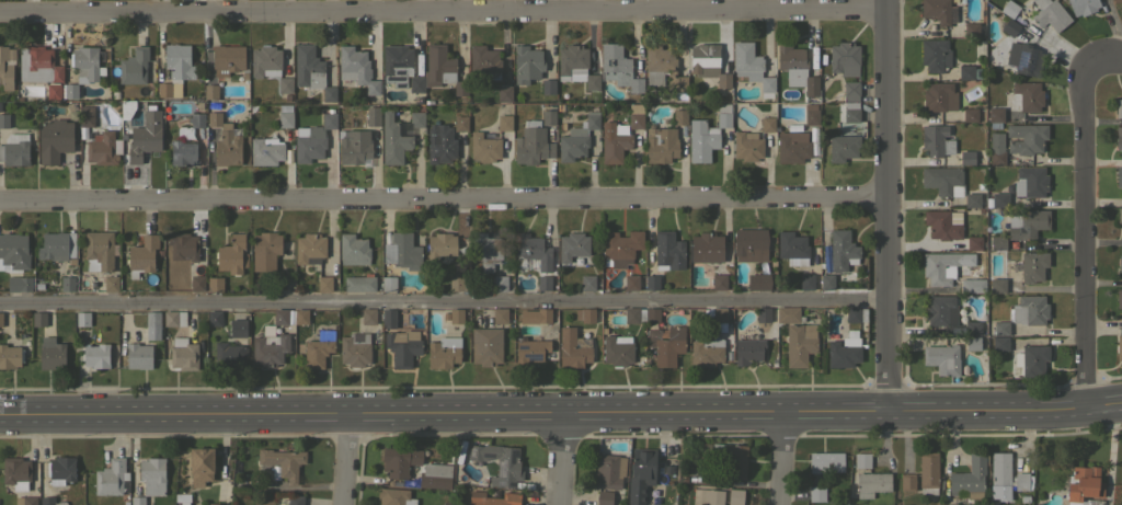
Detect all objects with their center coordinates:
building: (1118, 1)
building: (1083, 7)
road: (442, 8)
building: (1009, 8)
building: (939, 11)
building: (1050, 14)
building: (1009, 26)
building: (974, 28)
building: (978, 48)
building: (935, 55)
road: (1101, 57)
building: (844, 58)
building: (1024, 58)
building: (227, 59)
building: (265, 60)
building: (791, 60)
building: (87, 61)
building: (484, 62)
building: (527, 64)
building: (708, 64)
building: (38, 65)
building: (397, 65)
building: (134, 66)
building: (438, 66)
building: (575, 66)
building: (749, 66)
building: (5, 67)
building: (308, 67)
building: (618, 67)
building: (356, 68)
building: (663, 68)
building: (175, 69)
building: (965, 71)
rooftop solar panel: (707, 72)
building: (330, 76)
building: (243, 77)
building: (416, 84)
building: (285, 85)
building: (548, 85)
building: (810, 85)
building: (459, 88)
building: (70, 90)
building: (851, 90)
building: (54, 91)
building: (210, 91)
building: (329, 93)
building: (504, 93)
building: (114, 94)
building: (1027, 95)
building: (939, 96)
building: (416, 101)
building: (151, 104)
building: (126, 105)
building: (211, 105)
building: (1119, 107)
building: (851, 112)
building: (811, 114)
building: (973, 114)
building: (995, 114)
building: (722, 115)
building: (85, 116)
building: (284, 116)
building: (373, 116)
building: (547, 117)
building: (679, 117)
building: (416, 118)
building: (196, 119)
building: (592, 119)
building: (3, 120)
building: (329, 120)
building: (636, 120)
building: (460, 123)
building: (504, 123)
building: (767, 124)
building: (123, 131)
building: (183, 133)
building: (145, 136)
building: (1026, 138)
building: (1119, 138)
building: (54, 140)
building: (392, 140)
building: (700, 140)
building: (936, 140)
building: (225, 141)
building: (614, 141)
building: (309, 144)
building: (439, 144)
building: (531, 144)
building: (572, 145)
building: (661, 145)
building: (792, 145)
building: (353, 146)
building: (746, 146)
building: (484, 147)
building: (841, 147)
building: (103, 148)
building: (996, 149)
building: (14, 150)
building: (268, 151)
building: (183, 152)
building: (966, 158)
building: (1119, 175)
building: (942, 180)
building: (1030, 181)
road: (440, 197)
building: (972, 199)
building: (999, 199)
building: (987, 203)
road: (882, 207)
building: (1119, 215)
building: (942, 223)
building: (1027, 223)
road: (1078, 232)
building: (973, 242)
building: (997, 242)
building: (749, 244)
building: (1009, 244)
building: (56, 245)
building: (183, 245)
building: (572, 245)
building: (309, 246)
building: (620, 246)
building: (442, 248)
building: (706, 248)
building: (792, 248)
building: (99, 250)
building: (265, 250)
building: (353, 250)
building: (485, 250)
building: (533, 250)
building: (668, 250)
building: (841, 250)
building: (14, 251)
building: (402, 251)
building: (142, 255)
building: (231, 255)
building: (1120, 262)
building: (942, 265)
building: (1032, 265)
building: (543, 282)
building: (652, 282)
building: (719, 282)
building: (758, 282)
building: (806, 282)
building: (826, 282)
building: (197, 283)
building: (359, 283)
building: (388, 283)
building: (456, 283)
building: (500, 283)
building: (587, 283)
building: (630, 283)
building: (19, 284)
building: (67, 284)
building: (111, 284)
building: (215, 284)
building: (280, 284)
building: (324, 284)
building: (972, 285)
building: (997, 285)
building: (1119, 298)
road: (442, 300)
building: (939, 310)
building: (1030, 310)
building: (456, 314)
building: (543, 314)
building: (585, 314)
building: (633, 314)
building: (652, 314)
building: (719, 314)
building: (763, 314)
building: (788, 314)
building: (852, 314)
building: (300, 315)
building: (368, 315)
building: (500, 315)
building: (280, 317)
building: (82, 318)
building: (174, 318)
building: (214, 318)
building: (389, 318)
building: (1, 319)
building: (38, 319)
building: (152, 325)
building: (238, 328)
building: (973, 328)
building: (1000, 328)
building: (957, 331)
building: (972, 343)
building: (1000, 343)
building: (665, 344)
building: (800, 344)
building: (485, 345)
building: (402, 346)
building: (748, 347)
building: (1119, 347)
building: (270, 348)
building: (318, 348)
building: (573, 348)
building: (355, 349)
building: (529, 349)
building: (617, 349)
building: (707, 351)
building: (444, 352)
building: (844, 352)
building: (51, 354)
building: (183, 354)
building: (96, 355)
building: (228, 355)
building: (10, 356)
building: (138, 356)
building: (942, 358)
building: (1033, 358)
road: (561, 417)
building: (717, 448)
building: (702, 450)
road: (346, 460)
building: (735, 460)
road: (780, 460)
building: (283, 461)
building: (399, 461)
road: (558, 461)
building: (826, 461)
building: (499, 462)
building: (201, 464)
building: (60, 470)
building: (999, 470)
building: (16, 472)
building: (607, 472)
building: (928, 472)
building: (640, 474)
building: (152, 475)
building: (435, 475)
building: (970, 475)
building: (869, 477)
building: (112, 478)
building: (1021, 481)
building: (907, 482)
park: (1120, 484)
parking lot: (1120, 484)
rooftop solar panel: (125, 485)
building: (1085, 486)
building: (816, 493)
building: (394, 496)
building: (696, 496)
building: (712, 496)
building: (735, 496)
building: (604, 497)
building: (493, 498)
building: (296, 500)
building: (25, 501)
building: (50, 501)
building: (137, 501)

